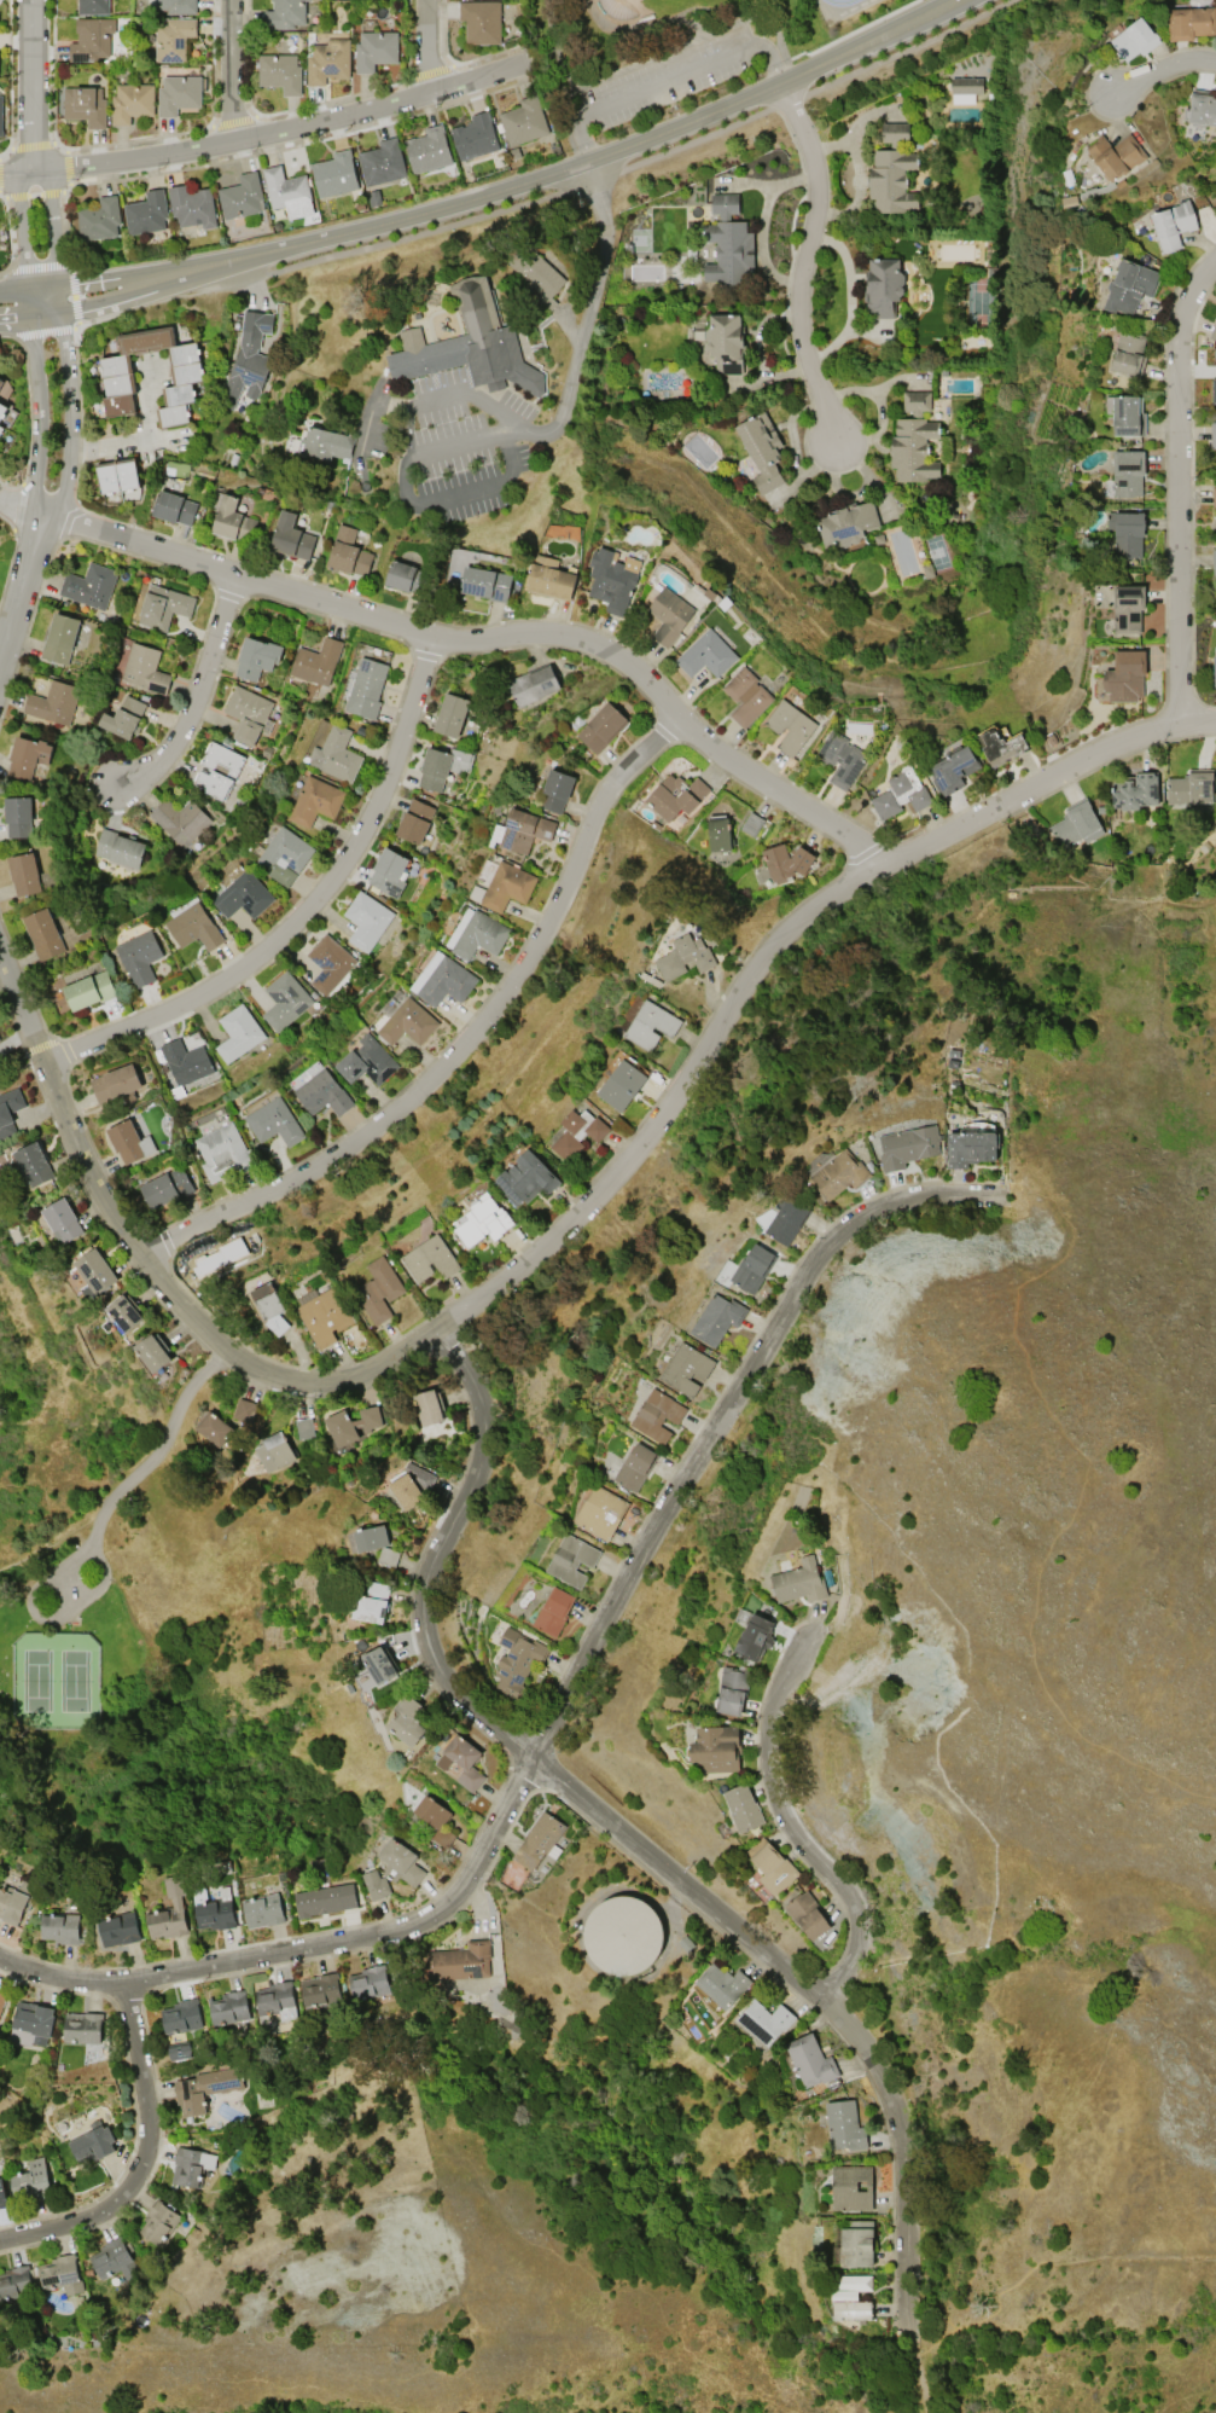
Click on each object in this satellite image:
building: (93, 6)
building: (176, 6)
park: (641, 8)
building: (285, 14)
building: (481, 22)
building: (1191, 22)
road: (653, 25)
building: (173, 39)
building: (1135, 39)
building: (91, 40)
road: (431, 43)
building: (376, 50)
park: (662, 56)
road: (560, 59)
building: (328, 62)
road: (1159, 68)
road: (229, 69)
parking lot: (668, 71)
building: (280, 72)
road: (667, 81)
road: (30, 85)
building: (964, 88)
building: (178, 94)
building: (132, 103)
building: (86, 106)
building: (1203, 108)
building: (0, 116)
building: (523, 121)
road: (262, 129)
building: (475, 137)
building: (427, 150)
building: (1115, 156)
building: (382, 163)
road: (613, 172)
building: (892, 173)
building: (334, 174)
road: (513, 186)
building: (287, 191)
building: (240, 196)
building: (192, 207)
building: (146, 213)
building: (99, 219)
building: (1173, 224)
building: (727, 242)
road: (805, 261)
building: (535, 274)
building: (883, 286)
building: (1129, 286)
road: (23, 306)
road: (584, 312)
building: (1212, 330)
building: (726, 343)
building: (469, 346)
building: (1128, 353)
building: (248, 359)
building: (185, 369)
building: (1, 382)
building: (1214, 391)
road: (476, 396)
building: (2, 408)
road: (373, 410)
road: (53, 414)
building: (1125, 414)
road: (408, 423)
building: (1, 428)
road: (517, 431)
building: (1212, 434)
road: (130, 440)
building: (913, 441)
building: (325, 443)
road: (455, 443)
building: (761, 449)
building: (1128, 471)
building: (117, 475)
road: (1177, 487)
road: (458, 494)
building: (1214, 497)
building: (174, 507)
road: (19, 509)
building: (233, 520)
building: (848, 524)
building: (1125, 533)
building: (291, 536)
building: (348, 553)
building: (1214, 561)
building: (408, 578)
building: (551, 578)
building: (610, 581)
building: (487, 584)
building: (88, 585)
building: (163, 607)
building: (1127, 608)
building: (669, 615)
road: (493, 638)
building: (59, 639)
building: (705, 655)
building: (256, 657)
building: (316, 662)
building: (1215, 667)
building: (144, 668)
building: (1124, 677)
building: (531, 685)
building: (366, 688)
building: (745, 696)
road: (200, 697)
building: (53, 702)
building: (248, 714)
building: (450, 714)
building: (123, 717)
building: (789, 726)
building: (601, 727)
building: (1000, 747)
building: (336, 754)
building: (28, 755)
building: (840, 758)
building: (440, 766)
building: (952, 768)
building: (217, 770)
building: (1189, 789)
building: (555, 790)
building: (900, 793)
building: (1135, 793)
building: (675, 796)
building: (315, 801)
building: (17, 817)
building: (179, 819)
building: (414, 822)
building: (751, 823)
building: (1076, 824)
building: (525, 830)
building: (718, 835)
building: (118, 848)
building: (284, 857)
building: (786, 862)
building: (388, 872)
building: (23, 874)
building: (506, 887)
building: (243, 895)
road: (307, 912)
building: (366, 921)
building: (193, 927)
building: (42, 934)
building: (476, 934)
building: (138, 957)
building: (685, 957)
building: (328, 963)
building: (442, 980)
building: (89, 990)
building: (284, 1000)
building: (408, 1022)
building: (650, 1025)
building: (237, 1033)
road: (465, 1040)
building: (185, 1061)
building: (367, 1061)
building: (619, 1080)
building: (115, 1084)
building: (319, 1090)
building: (8, 1109)
building: (274, 1121)
building: (577, 1132)
building: (129, 1142)
building: (907, 1147)
building: (968, 1148)
building: (223, 1153)
building: (33, 1164)
building: (838, 1174)
building: (525, 1179)
building: (167, 1187)
building: (62, 1219)
building: (786, 1219)
building: (483, 1220)
road: (555, 1232)
building: (429, 1259)
building: (752, 1268)
building: (95, 1271)
building: (378, 1289)
building: (269, 1307)
building: (126, 1312)
building: (324, 1316)
building: (716, 1319)
building: (153, 1352)
building: (686, 1369)
building: (429, 1408)
building: (244, 1410)
building: (657, 1415)
building: (351, 1425)
building: (215, 1428)
building: (303, 1428)
road: (159, 1449)
building: (273, 1451)
building: (634, 1467)
building: (420, 1475)
building: (406, 1491)
building: (600, 1512)
building: (371, 1537)
building: (388, 1556)
building: (571, 1560)
building: (798, 1582)
parking lot: (66, 1589)
building: (372, 1603)
building: (553, 1612)
road: (46, 1620)
building: (754, 1637)
building: (517, 1660)
building: (380, 1664)
park: (54, 1682)
building: (732, 1692)
road: (565, 1695)
building: (407, 1721)
building: (716, 1748)
building: (461, 1763)
building: (743, 1808)
building: (435, 1820)
road: (795, 1829)
road: (626, 1837)
building: (537, 1840)
building: (400, 1862)
building: (772, 1866)
building: (376, 1885)
building: (325, 1901)
building: (13, 1902)
building: (169, 1909)
building: (213, 1909)
building: (262, 1909)
building: (808, 1915)
building: (59, 1927)
building: (118, 1930)
building: (622, 1936)
building: (459, 1961)
building: (370, 1982)
building: (722, 1985)
building: (320, 1990)
building: (1, 1999)
building: (275, 2000)
building: (228, 2007)
building: (181, 2017)
building: (34, 2020)
building: (766, 2022)
building: (82, 2026)
building: (180, 2052)
building: (810, 2061)
building: (203, 2089)
building: (844, 2124)
building: (92, 2141)
road: (149, 2163)
building: (191, 2165)
building: (30, 2180)
building: (851, 2188)
building: (2, 2197)
building: (158, 2222)
building: (853, 2243)
building: (114, 2260)
building: (60, 2274)
building: (14, 2283)
building: (851, 2297)
road: (915, 2373)

